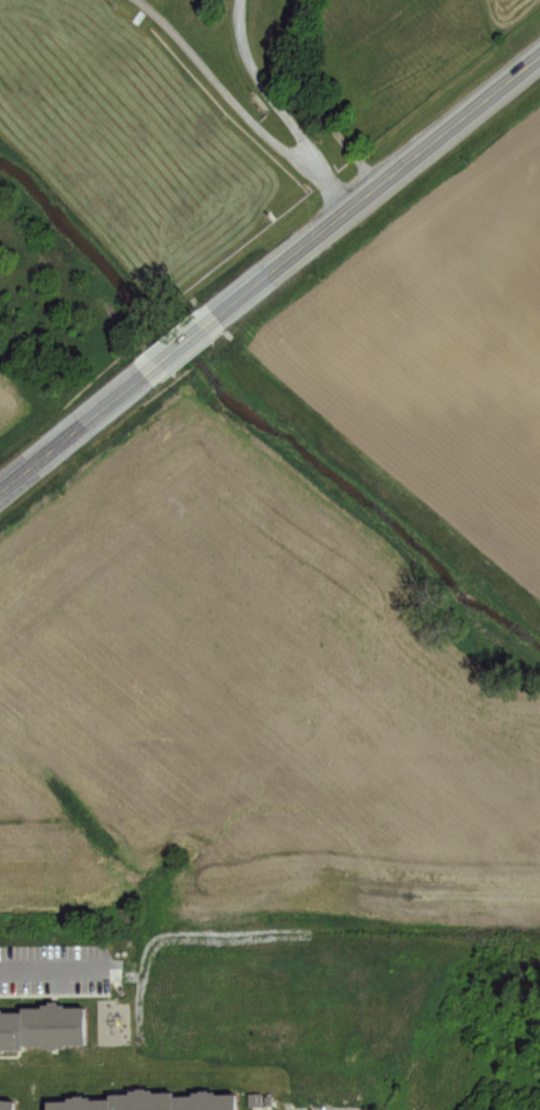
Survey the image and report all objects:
road: (308, 101)
road: (282, 144)
road: (325, 186)
road: (378, 186)
crop: (43, 321)
road: (183, 346)
road: (74, 437)
crop: (301, 654)
road: (49, 969)
building: (49, 1025)
building: (9, 1028)
building: (140, 1099)
building: (204, 1100)
building: (7, 1102)
building: (80, 1102)

